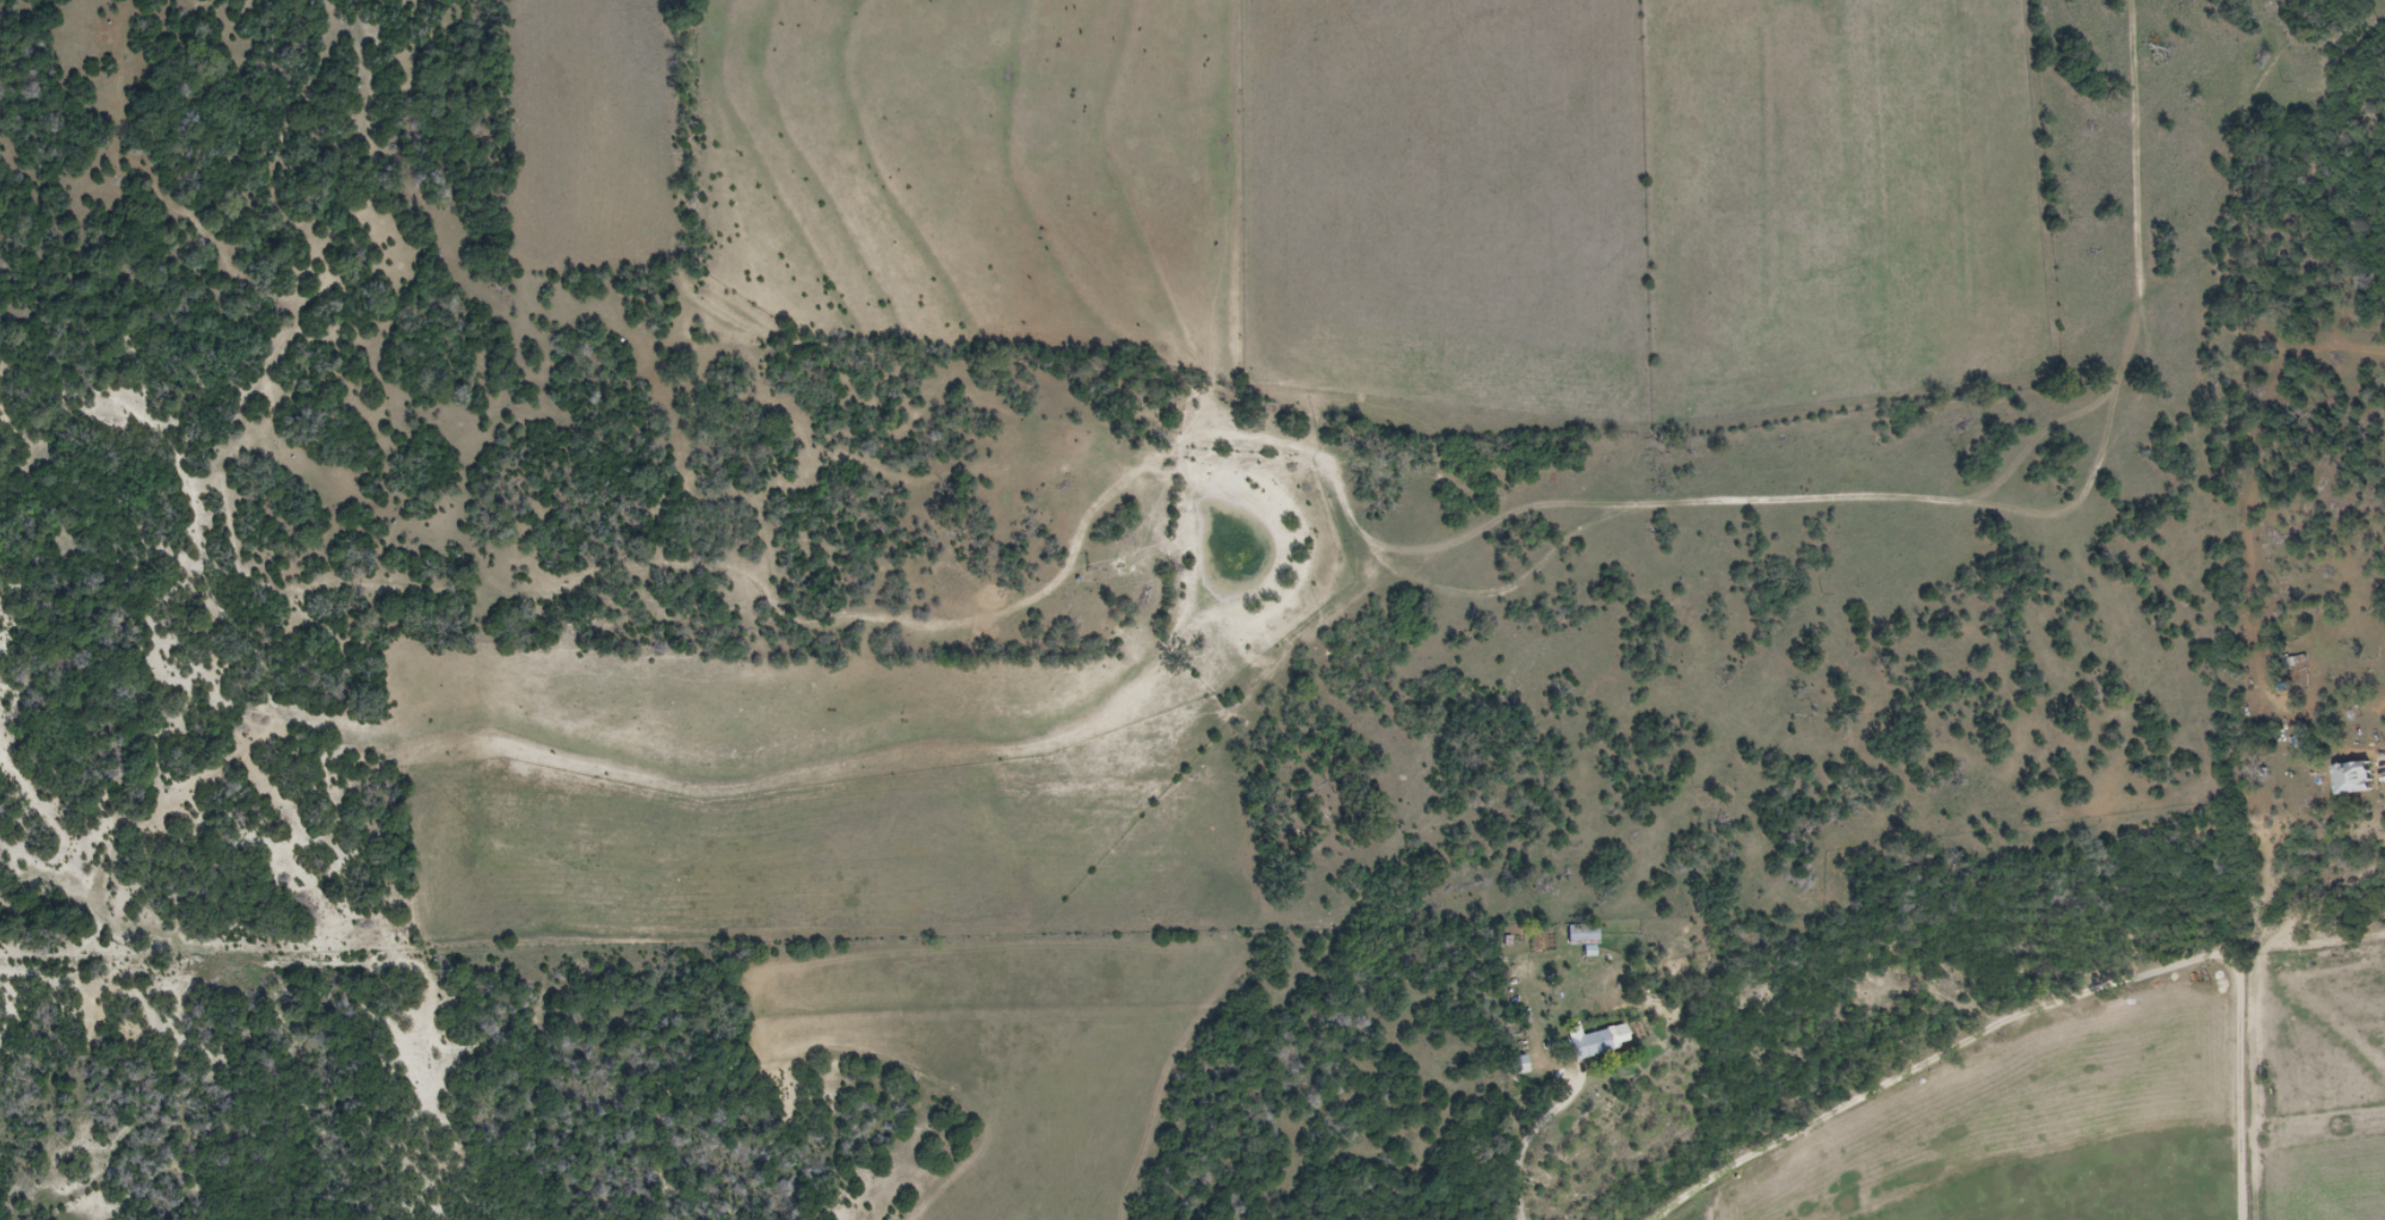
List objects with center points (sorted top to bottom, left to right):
building: (2352, 780)
building: (1583, 936)
road: (2301, 940)
road: (2050, 1003)
building: (1594, 1043)
building: (1518, 1066)
road: (1528, 1152)

